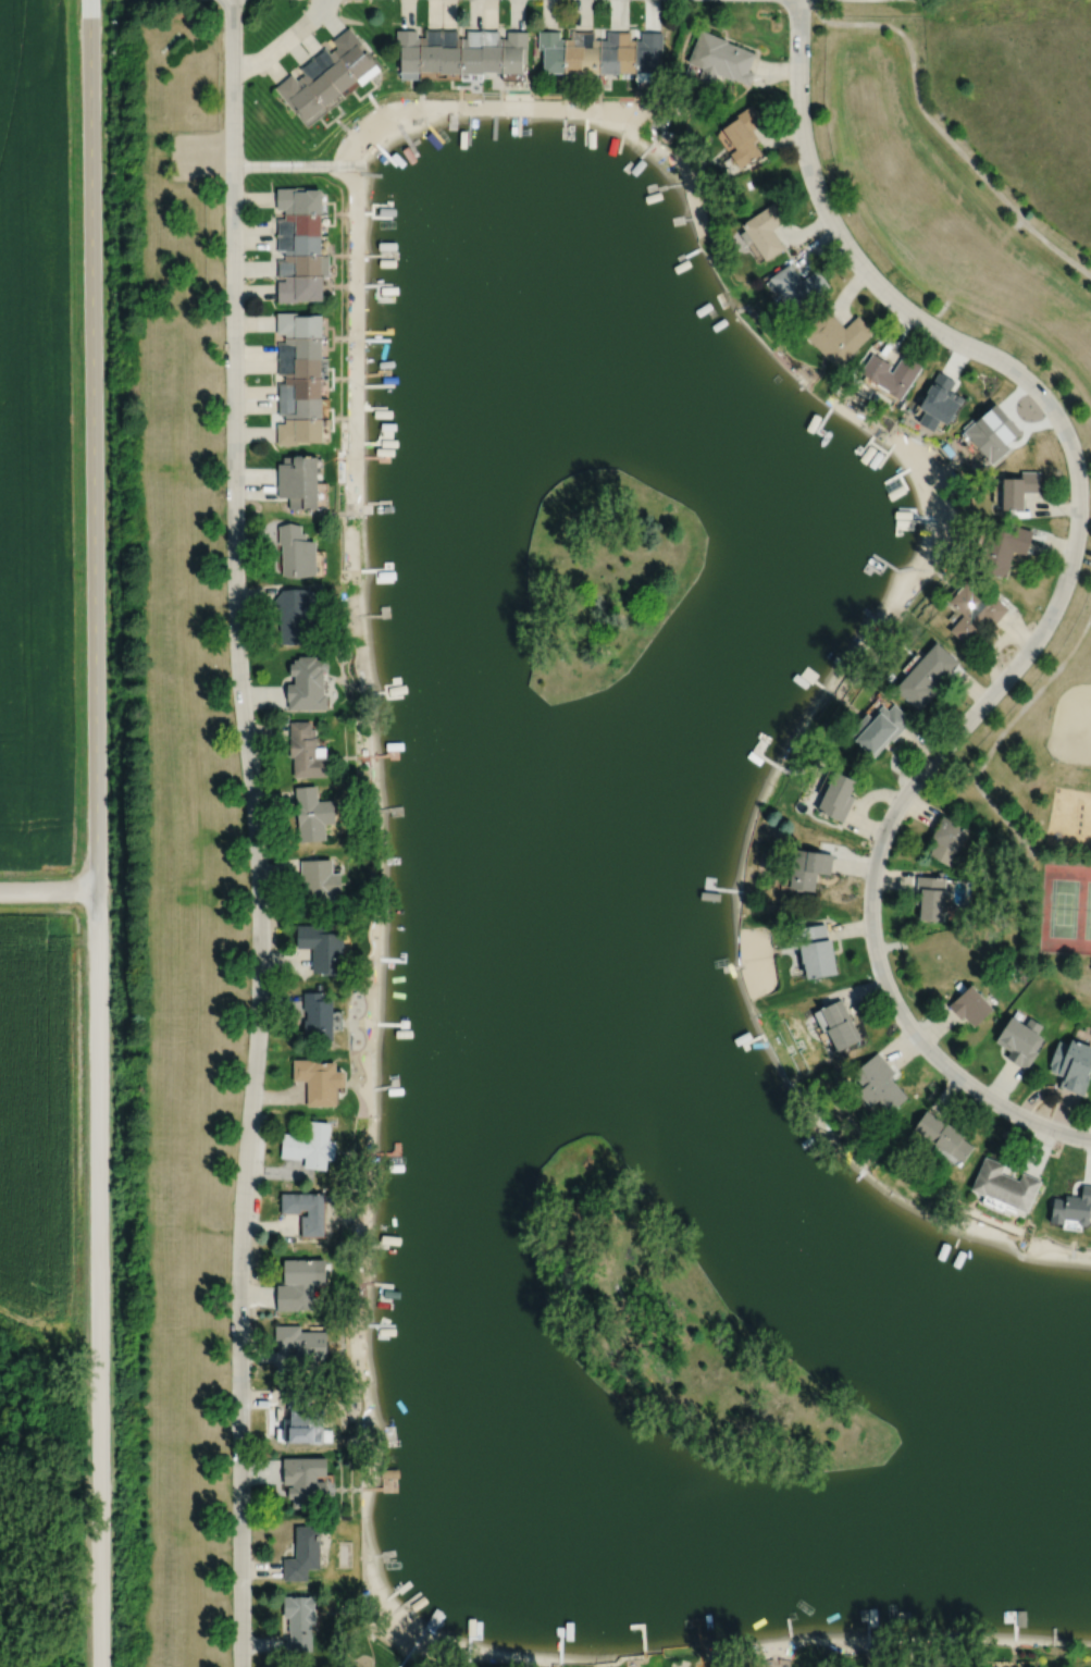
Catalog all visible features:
street lamp: (604, 1)
street lamp: (785, 14)
road: (284, 41)
building: (431, 50)
building: (449, 52)
building: (491, 52)
building: (512, 52)
building: (550, 52)
building: (573, 52)
building: (590, 53)
building: (608, 53)
building: (624, 53)
building: (408, 54)
building: (470, 55)
building: (646, 55)
building: (354, 57)
building: (720, 59)
street lamp: (221, 61)
building: (334, 70)
building: (320, 85)
building: (300, 100)
road: (939, 127)
building: (743, 136)
road: (300, 165)
street lamp: (221, 182)
building: (298, 201)
street lamp: (813, 212)
building: (299, 225)
building: (763, 232)
building: (299, 245)
building: (302, 267)
road: (971, 271)
building: (796, 286)
building: (299, 289)
building: (298, 324)
road: (1031, 337)
building: (836, 338)
building: (300, 347)
street lamp: (946, 349)
building: (300, 367)
building: (891, 374)
building: (300, 387)
building: (937, 402)
street lamp: (222, 403)
building: (300, 407)
building: (299, 430)
building: (990, 431)
crop: (35, 440)
road: (92, 446)
building: (297, 469)
building: (1017, 487)
building: (299, 493)
street lamp: (1066, 516)
building: (1000, 547)
building: (296, 551)
park: (603, 578)
road: (1058, 595)
building: (972, 612)
building: (294, 616)
street lamp: (225, 626)
building: (922, 674)
street lamp: (987, 681)
building: (308, 683)
road: (1017, 711)
park: (1070, 725)
building: (877, 728)
building: (306, 751)
park: (1037, 785)
building: (838, 798)
building: (312, 814)
road: (256, 832)
road: (1020, 839)
building: (945, 840)
street lamp: (247, 847)
street lamp: (867, 847)
building: (808, 869)
building: (939, 874)
building: (320, 880)
road: (49, 892)
building: (928, 898)
park: (1066, 907)
building: (322, 949)
building: (815, 951)
building: (958, 987)
building: (968, 1007)
building: (318, 1014)
building: (838, 1021)
building: (1019, 1041)
building: (1070, 1065)
street lamp: (243, 1069)
building: (319, 1078)
building: (879, 1081)
crop: (35, 1116)
building: (943, 1133)
street lamp: (1059, 1143)
building: (310, 1144)
building: (1006, 1183)
building: (1071, 1208)
building: (312, 1224)
road: (98, 1280)
building: (297, 1283)
street lamp: (228, 1291)
park: (677, 1328)
building: (302, 1345)
building: (303, 1418)
building: (305, 1480)
street lamp: (230, 1512)
building: (303, 1553)
building: (300, 1621)

